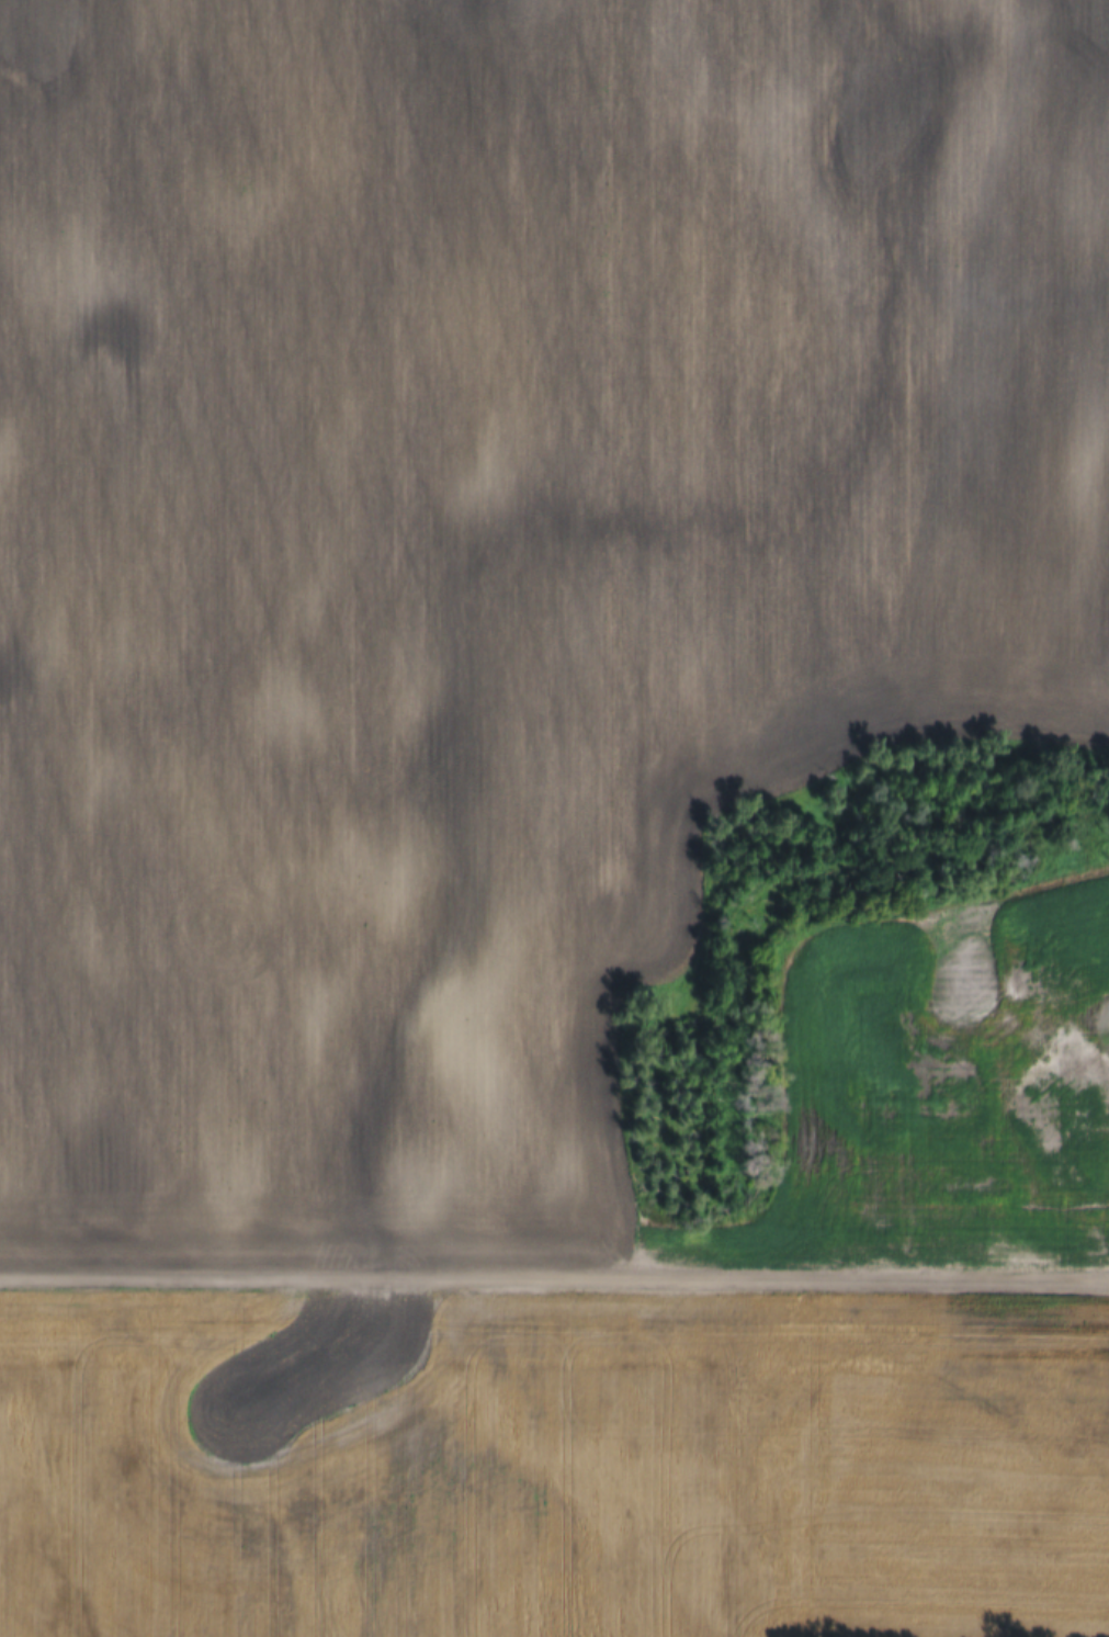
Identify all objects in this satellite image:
road: (554, 1274)

